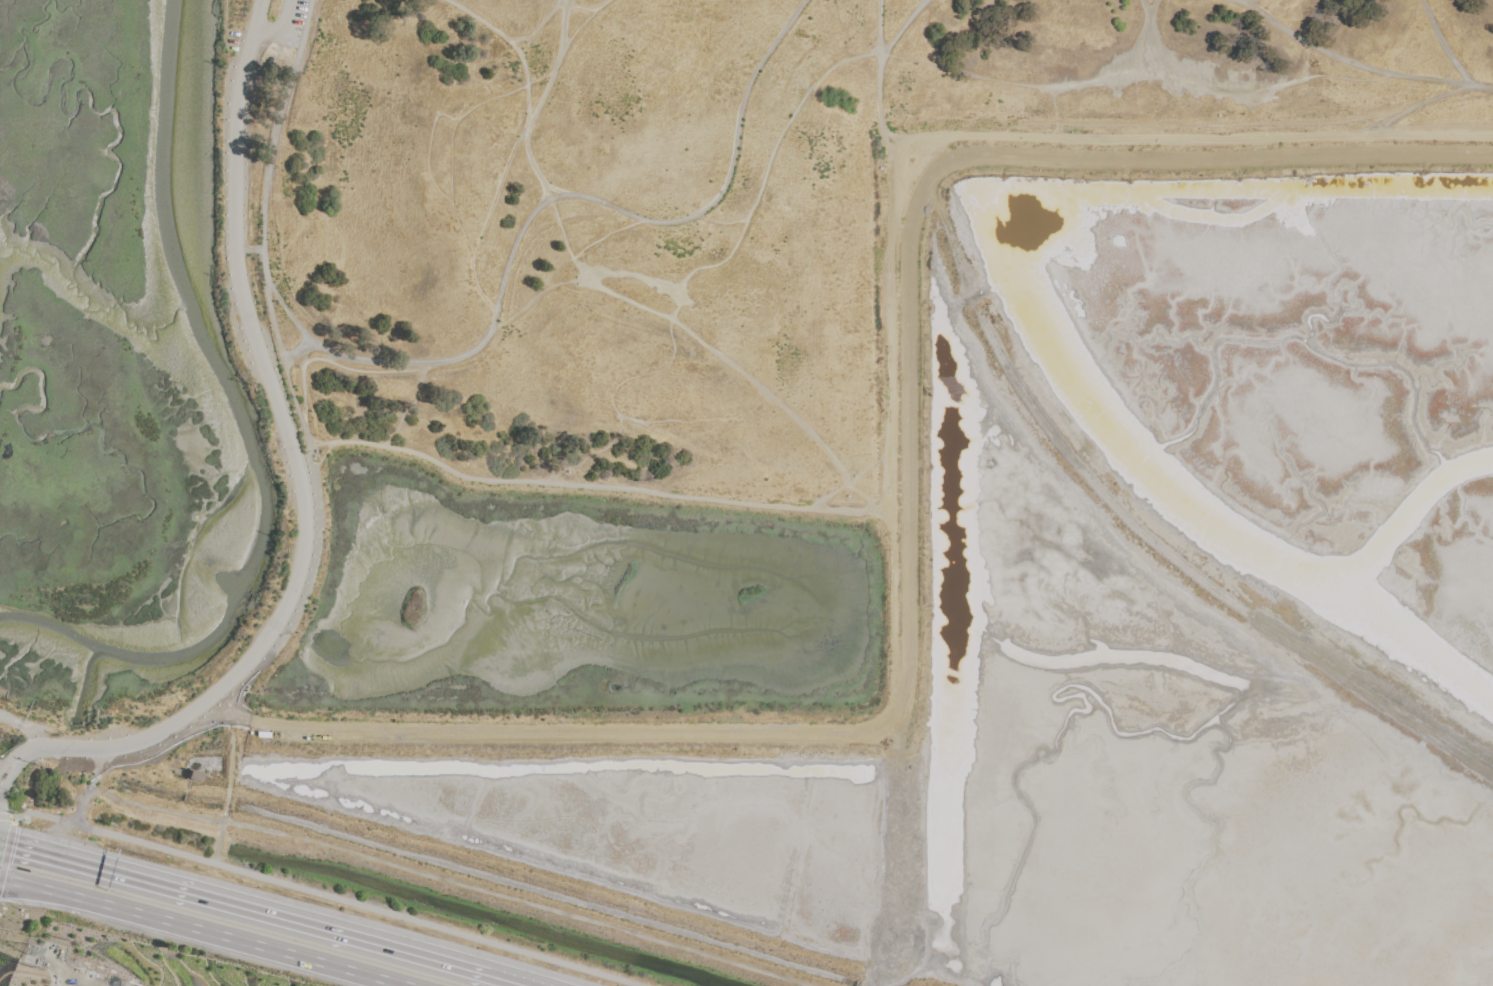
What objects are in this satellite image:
road: (714, 0)
road: (1151, 8)
road: (548, 13)
parking lot: (298, 24)
road: (563, 26)
road: (225, 28)
road: (901, 28)
road: (282, 31)
road: (1146, 32)
road: (1441, 45)
road: (513, 49)
road: (1305, 60)
road: (1356, 64)
road: (1134, 70)
road: (879, 72)
road: (541, 101)
road: (1053, 104)
road: (1409, 109)
road: (1195, 125)
road: (1006, 137)
road: (427, 149)
road: (497, 193)
road: (563, 198)
road: (451, 201)
road: (268, 224)
road: (722, 224)
road: (560, 230)
road: (594, 242)
road: (619, 274)
road: (683, 282)
road: (624, 300)
road: (292, 320)
road: (504, 323)
park: (659, 331)
road: (331, 358)
road: (301, 359)
road: (331, 363)
road: (409, 405)
road: (784, 408)
road: (325, 453)
road: (589, 453)
road: (297, 477)
road: (849, 482)
road: (585, 486)
road: (1139, 529)
parking lot: (305, 595)
building: (194, 776)
road: (91, 786)
street lamp: (9, 813)
road: (7, 817)
traffic signals: (15, 846)
road: (8, 848)
street lamp: (171, 858)
road: (451, 883)
road: (326, 895)
road: (244, 906)
road: (199, 931)
power tower: (36, 953)
parking lot: (63, 967)
street lamp: (554, 968)
road: (23, 971)
road: (80, 978)
road: (510, 979)

